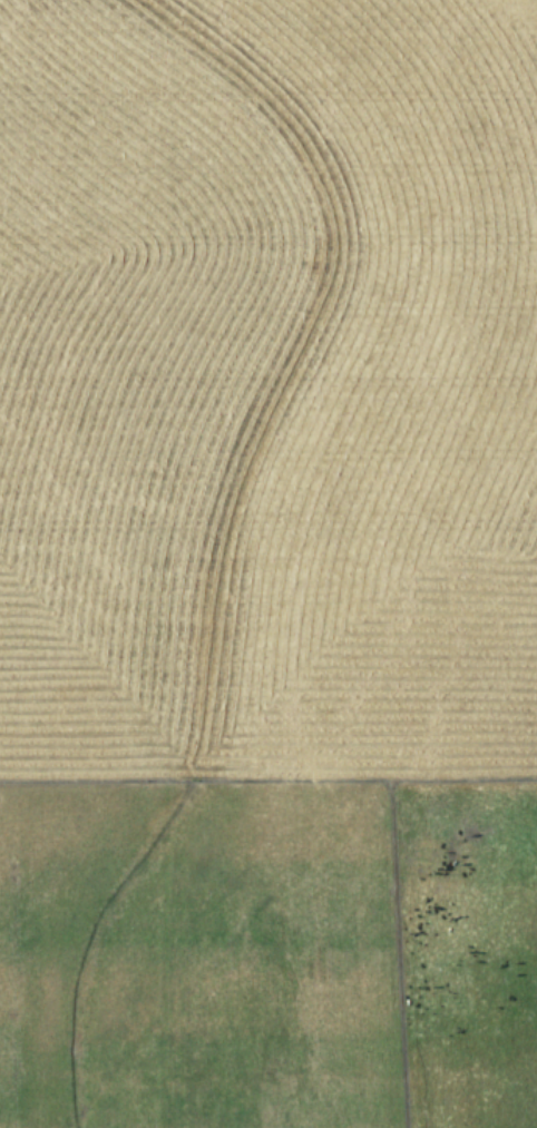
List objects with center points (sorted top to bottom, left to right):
crop: (268, 563)

